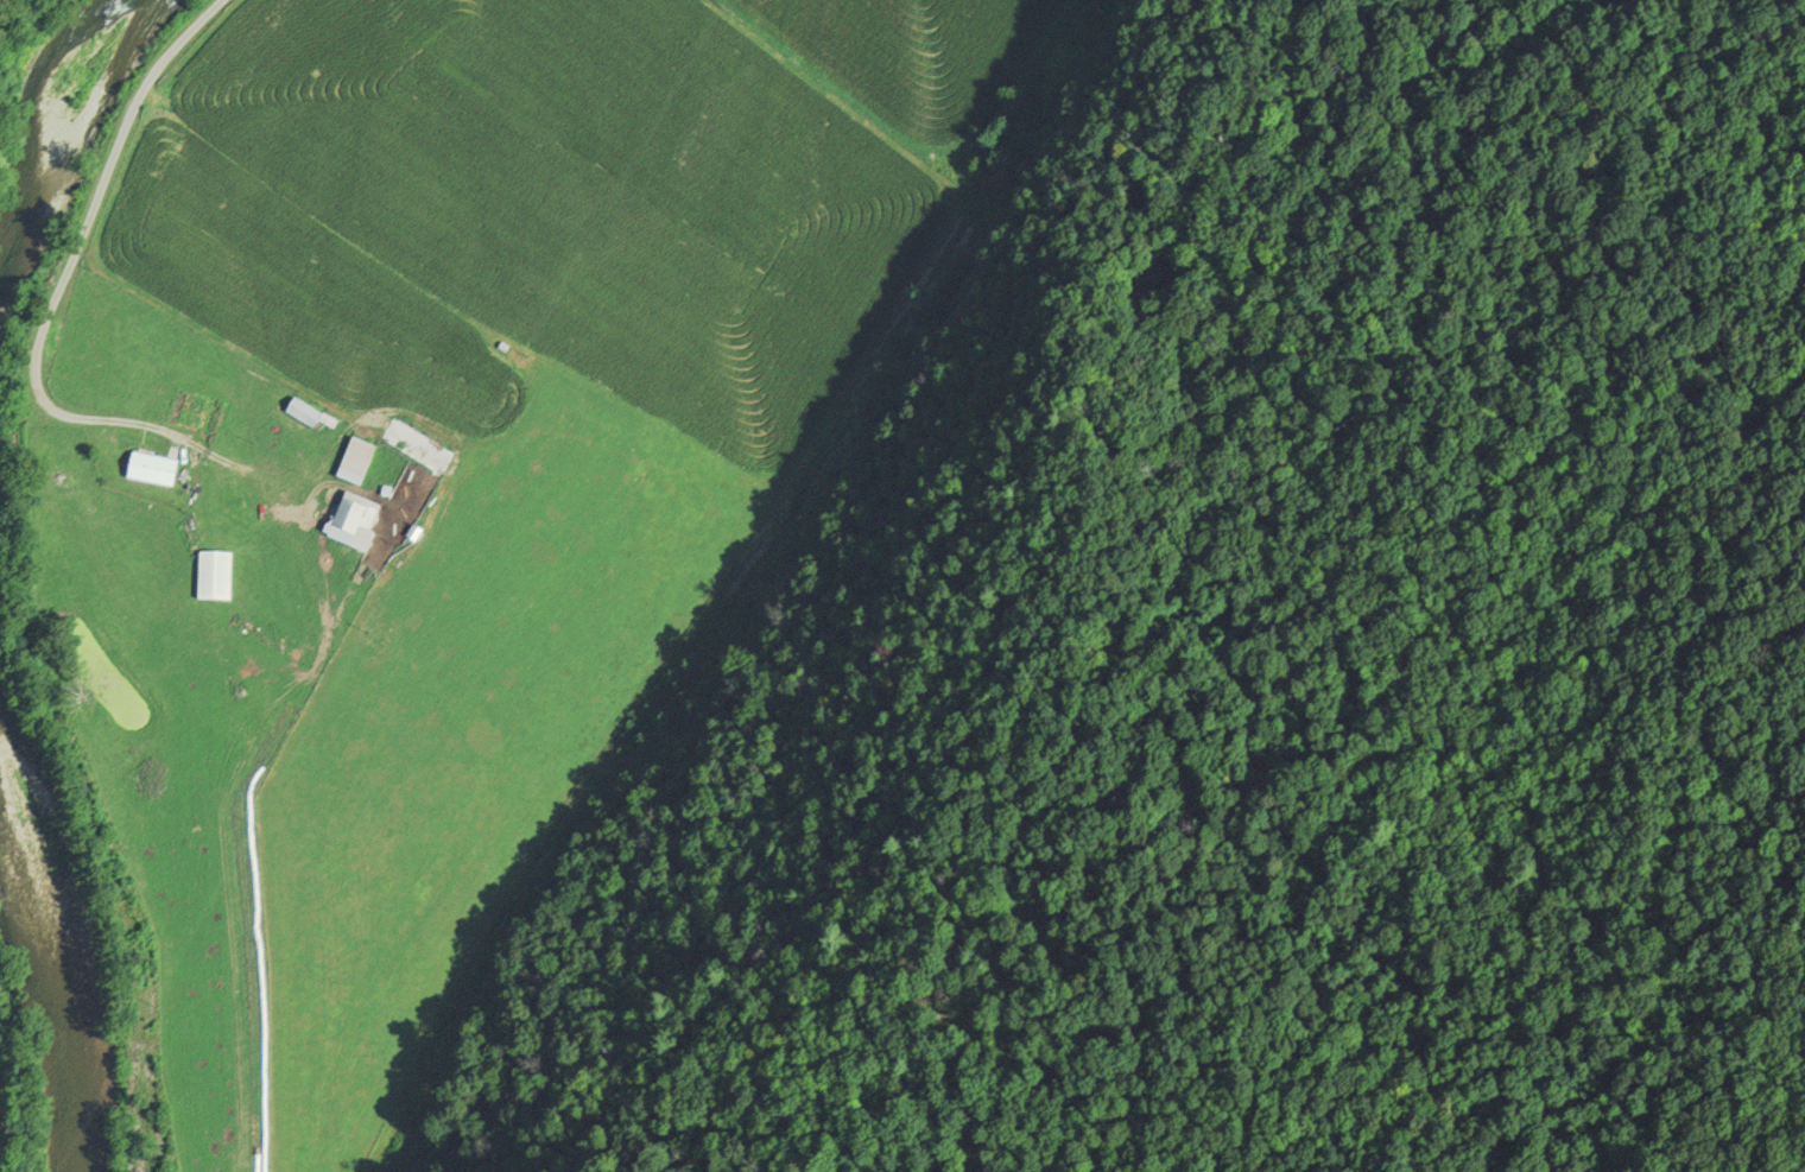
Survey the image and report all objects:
crop: (916, 64)
river: (53, 103)
crop: (609, 189)
road: (72, 261)
building: (305, 413)
building: (359, 461)
building: (156, 471)
building: (357, 520)
building: (217, 578)
crop: (414, 596)
river: (74, 911)
crop: (4, 1113)

